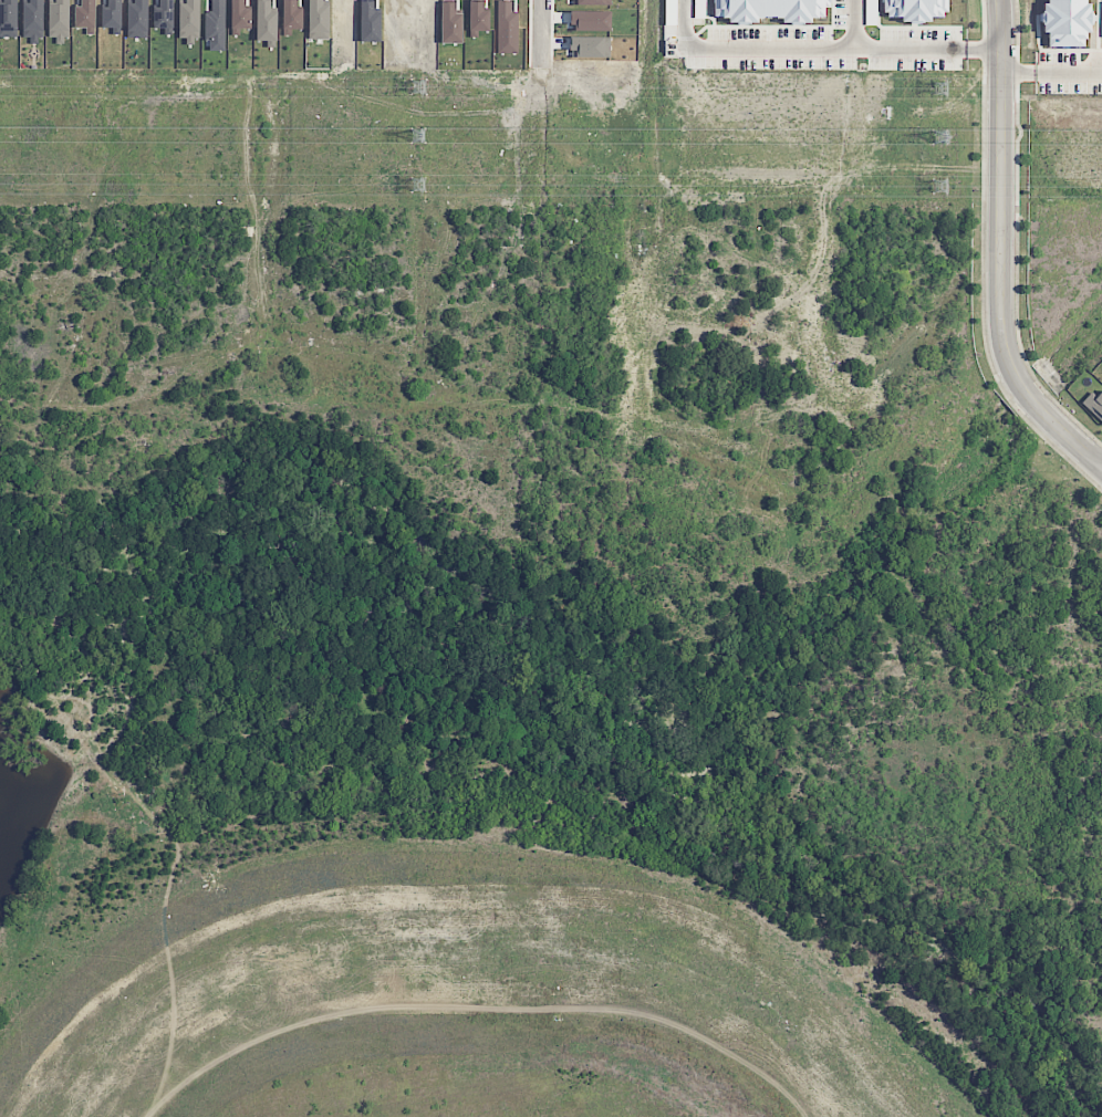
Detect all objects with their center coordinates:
building: (767, 9)
building: (914, 10)
building: (1064, 22)
road: (855, 24)
road: (542, 32)
road: (824, 48)
road: (1052, 74)
power tower: (417, 88)
power tower: (940, 91)
power tower: (416, 136)
power tower: (940, 137)
power tower: (417, 185)
power tower: (940, 187)
road: (1000, 252)
building: (1095, 404)

